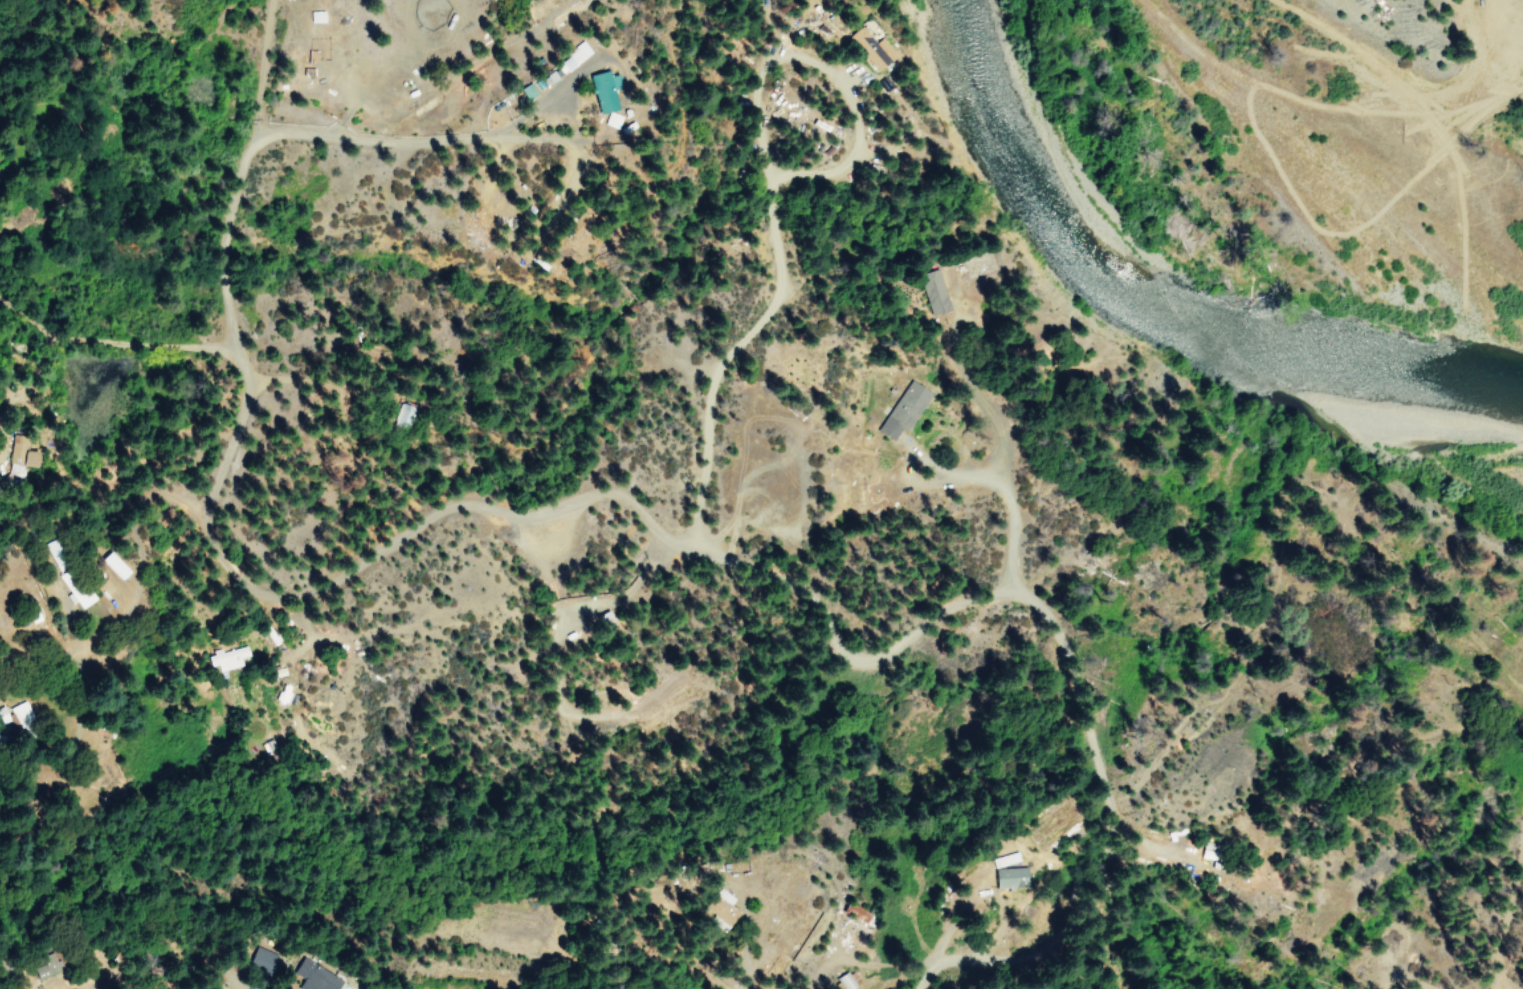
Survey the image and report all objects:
building: (315, 16)
building: (870, 48)
building: (560, 65)
building: (600, 90)
building: (524, 91)
road: (540, 100)
road: (554, 100)
road: (315, 134)
road: (514, 137)
road: (769, 191)
river: (1214, 256)
building: (933, 292)
road: (115, 338)
road: (242, 357)
building: (903, 409)
building: (393, 416)
building: (19, 457)
road: (979, 470)
building: (114, 565)
building: (80, 596)
building: (227, 658)
road: (855, 658)
road: (110, 689)
building: (20, 711)
building: (2, 715)
building: (1007, 879)
building: (720, 909)
building: (259, 961)
building: (46, 967)
building: (313, 976)
building: (844, 981)

